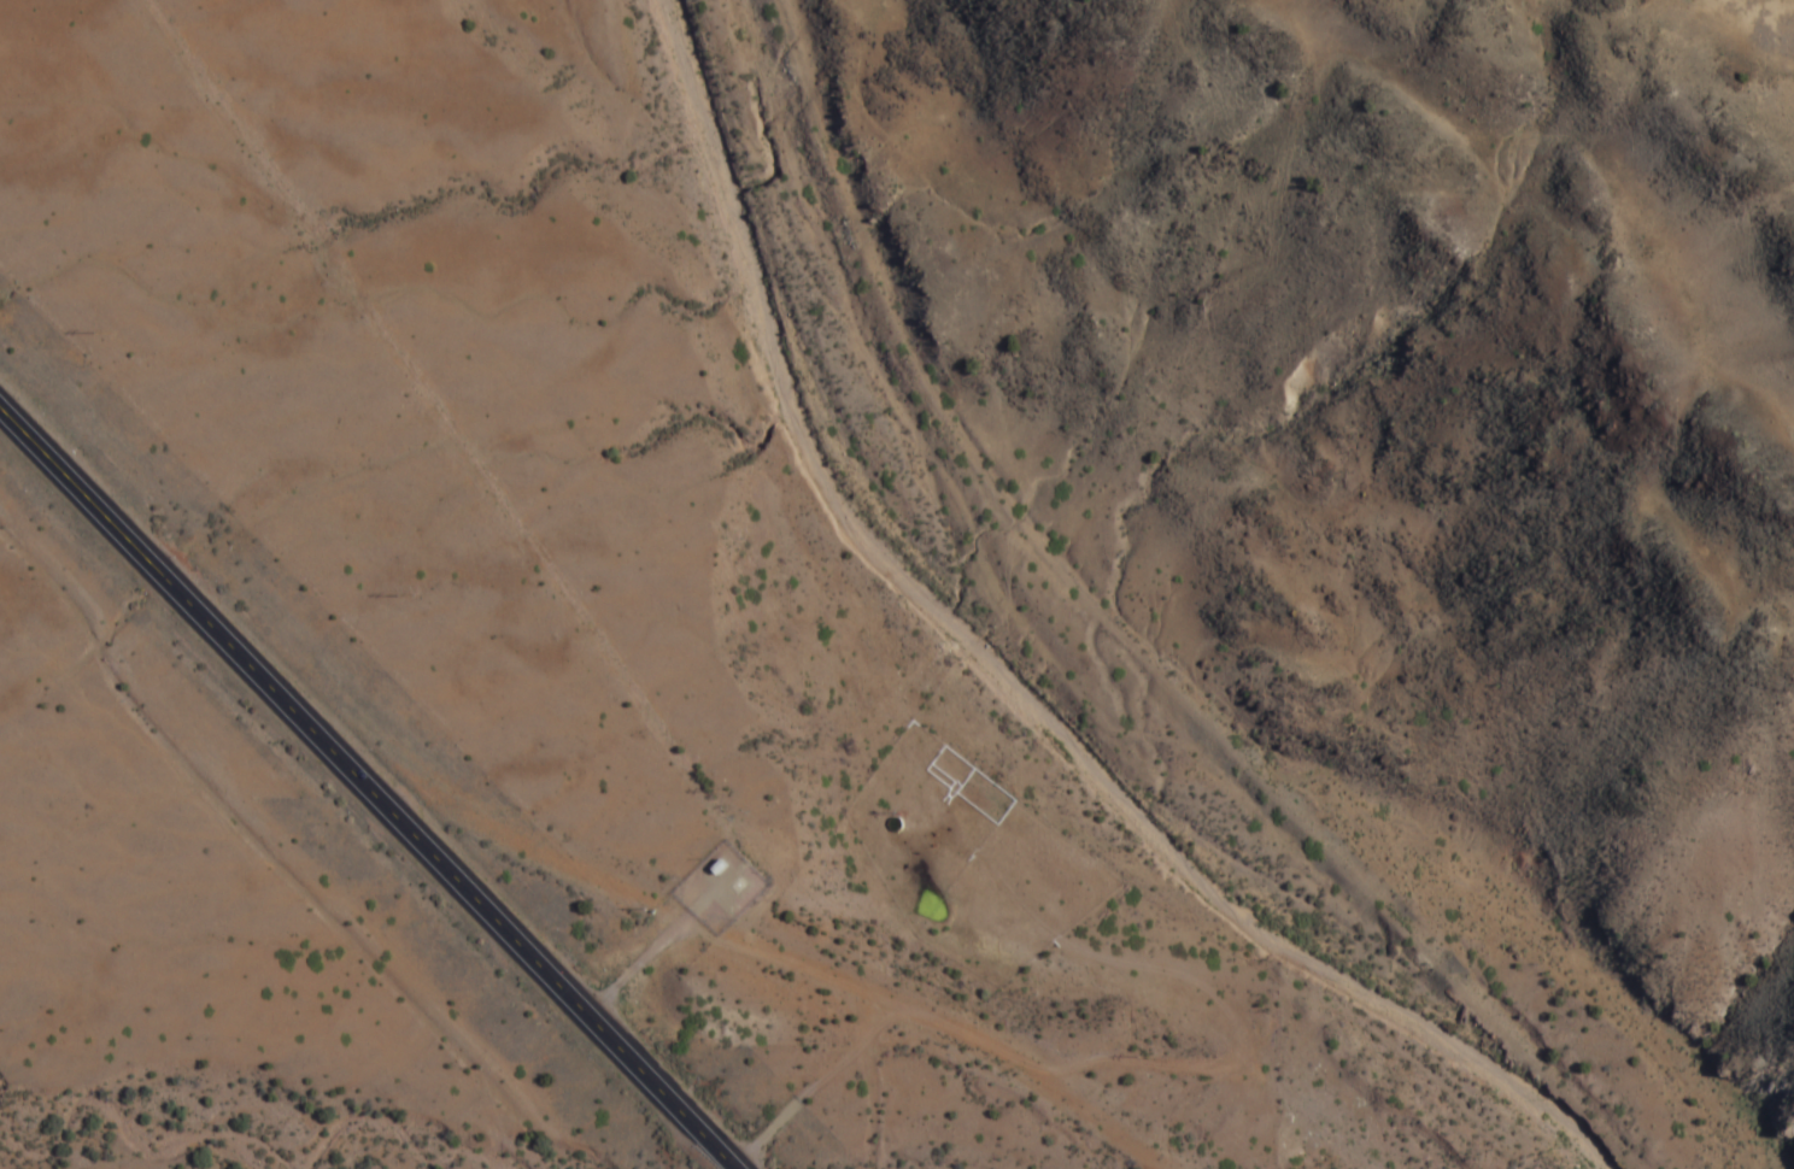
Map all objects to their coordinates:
road: (364, 786)
road: (655, 941)
road: (1079, 1063)
road: (761, 1132)

